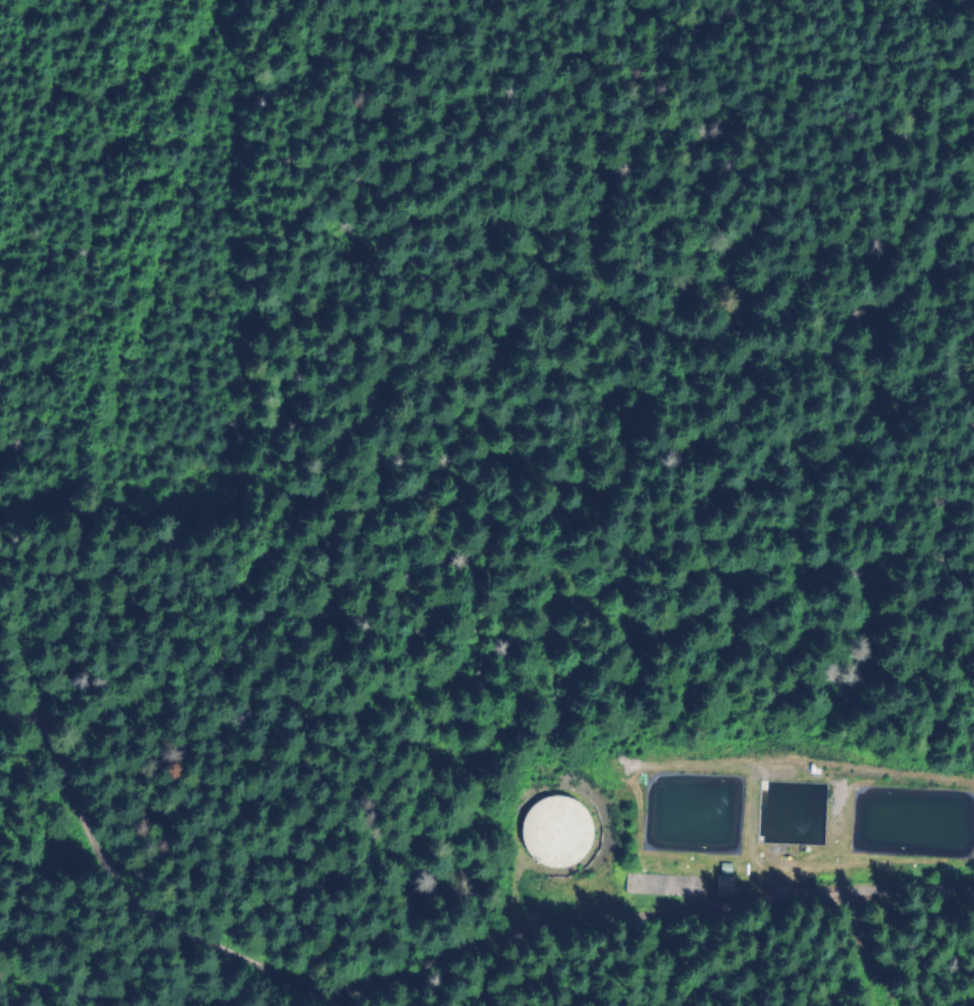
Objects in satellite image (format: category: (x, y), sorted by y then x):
road: (106, 396)
building: (555, 832)
building: (723, 887)
road: (804, 949)
road: (430, 969)
road: (284, 989)

